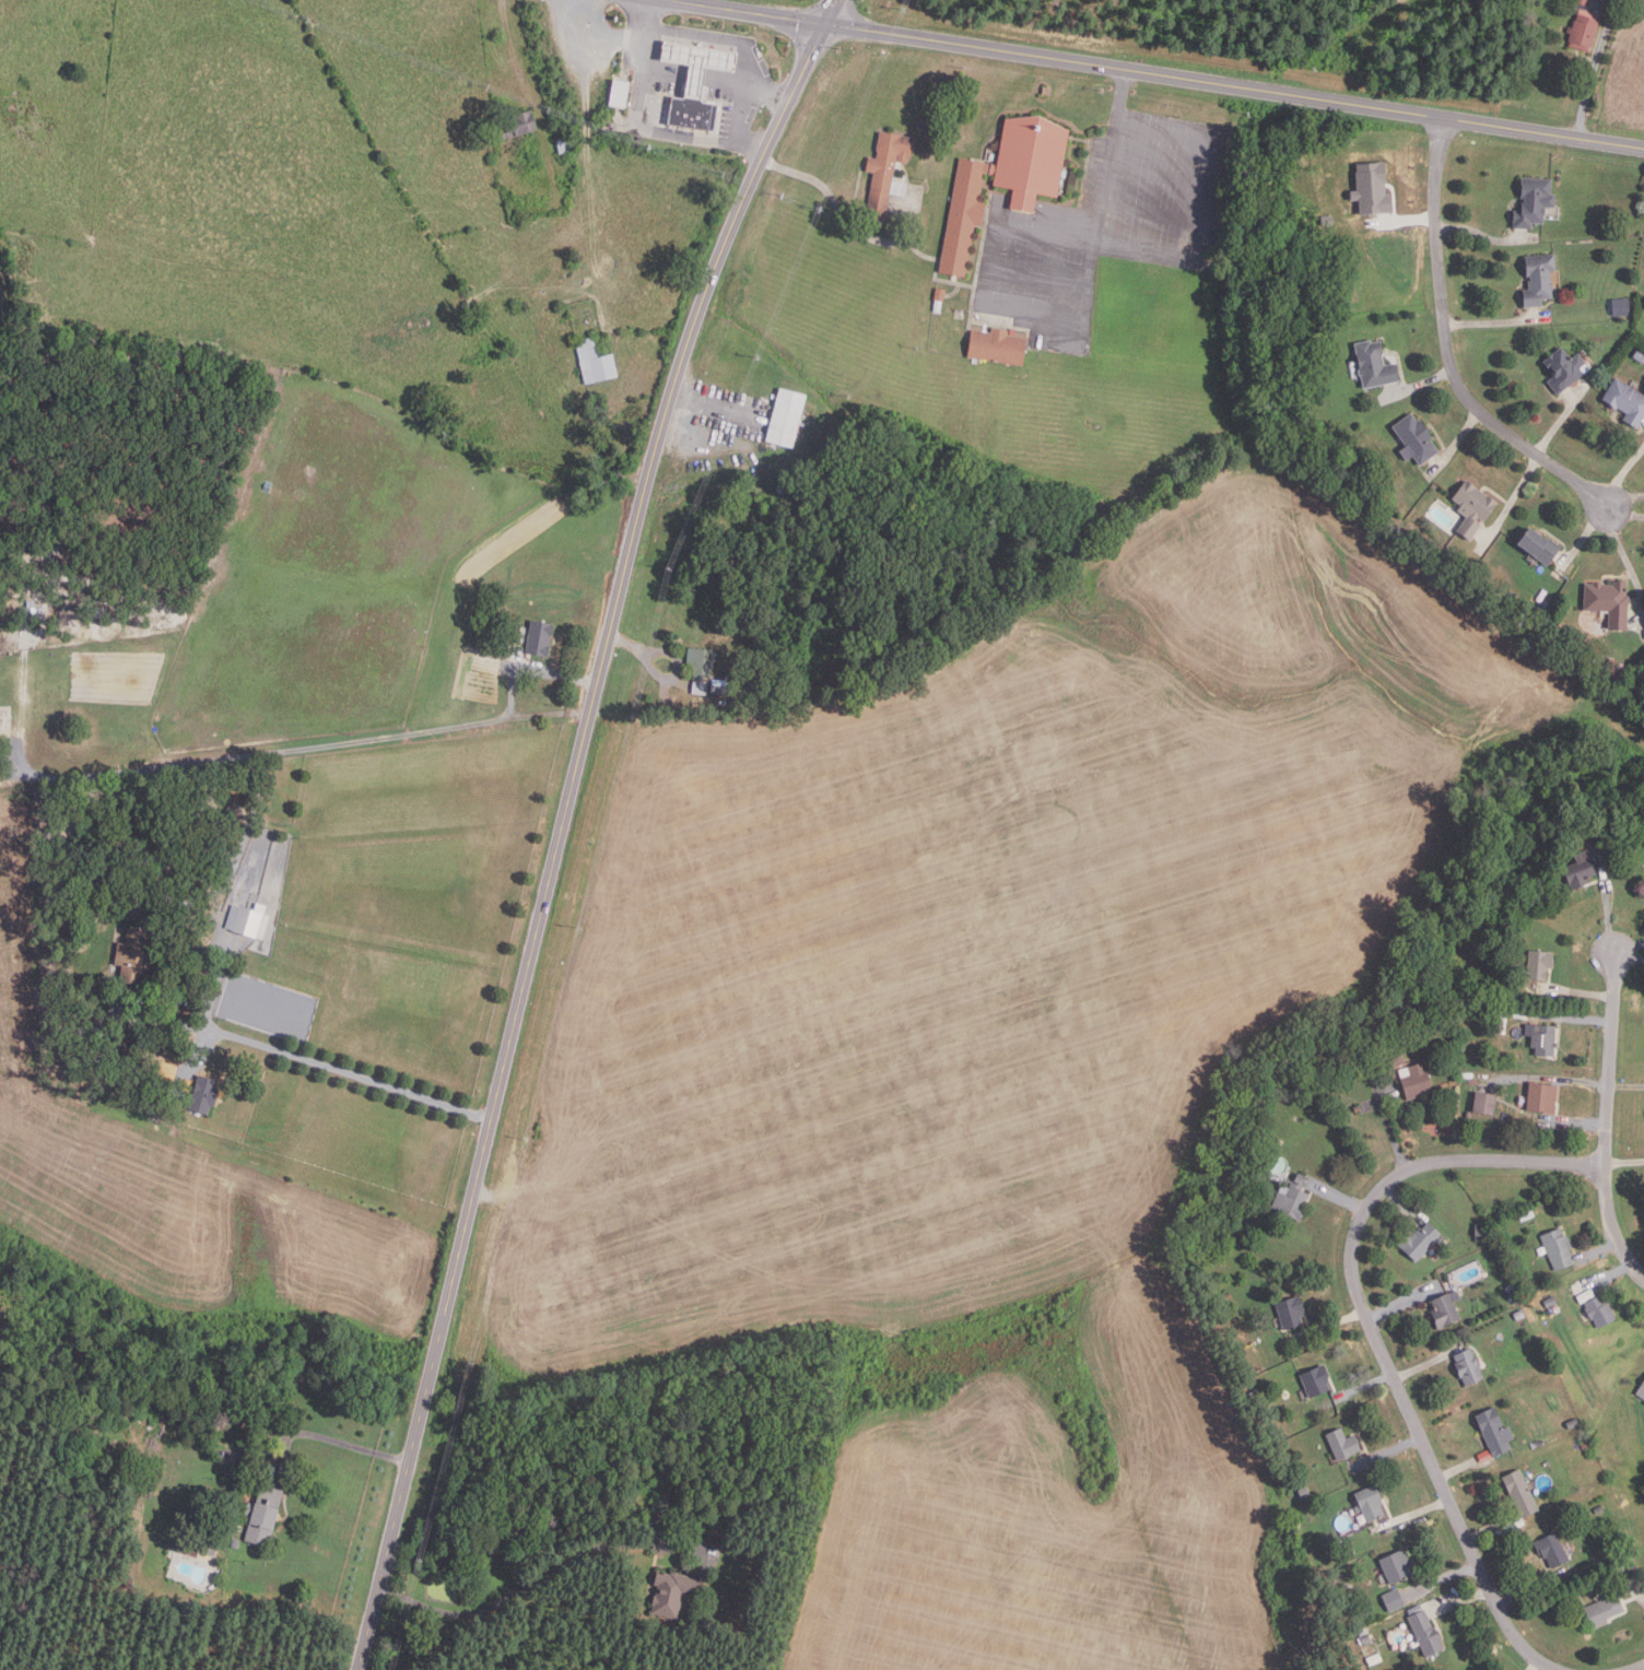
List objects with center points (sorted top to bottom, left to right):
building: (1583, 2)
road: (831, 12)
road: (643, 15)
road: (600, 31)
building: (1584, 31)
road: (1596, 69)
road: (1161, 74)
building: (695, 83)
building: (619, 94)
road: (765, 95)
building: (518, 126)
road: (739, 138)
building: (566, 144)
road: (1111, 157)
building: (888, 173)
building: (1003, 184)
building: (1374, 189)
building: (1534, 200)
road: (835, 203)
road: (1404, 223)
road: (1484, 234)
road: (1151, 255)
building: (1540, 278)
building: (940, 295)
building: (1621, 306)
road: (983, 309)
road: (1494, 320)
building: (997, 346)
road: (1447, 346)
building: (1639, 355)
building: (595, 362)
building: (1374, 363)
building: (1564, 368)
road: (1419, 385)
building: (1643, 391)
building: (1627, 400)
road: (717, 404)
building: (786, 415)
road: (1561, 419)
building: (1416, 437)
road: (696, 442)
road: (1456, 444)
road: (1623, 472)
road: (1625, 498)
road: (1513, 499)
building: (1473, 507)
road: (1624, 510)
road: (1585, 536)
building: (1540, 544)
road: (1622, 551)
building: (150, 577)
building: (1609, 601)
building: (101, 605)
building: (31, 610)
building: (539, 636)
road: (680, 654)
building: (700, 660)
road: (529, 670)
building: (700, 687)
building: (718, 689)
building: (2, 726)
road: (293, 749)
road: (562, 836)
building: (1581, 869)
road: (1607, 918)
building: (247, 919)
road: (1629, 948)
building: (136, 955)
road: (1629, 957)
building: (1539, 965)
road: (213, 985)
road: (1574, 991)
building: (1518, 1014)
road: (1574, 1019)
road: (171, 1021)
building: (1500, 1023)
building: (124, 1040)
building: (1545, 1040)
road: (214, 1047)
building: (1396, 1059)
road: (347, 1071)
building: (1416, 1080)
road: (1577, 1080)
road: (1627, 1085)
building: (203, 1094)
building: (1542, 1098)
building: (1486, 1102)
road: (1606, 1120)
road: (1574, 1122)
road: (1391, 1127)
road: (1624, 1161)
road: (1338, 1197)
building: (1292, 1198)
road: (1399, 1201)
building: (1527, 1214)
building: (1479, 1231)
building: (1420, 1242)
building: (1559, 1249)
road: (1597, 1251)
road: (1608, 1278)
building: (1517, 1296)
building: (1550, 1302)
road: (1401, 1304)
building: (1557, 1309)
building: (1445, 1310)
building: (1600, 1312)
building: (1291, 1313)
building: (1519, 1315)
road: (1331, 1324)
road: (1373, 1333)
road: (1426, 1363)
building: (1468, 1368)
building: (1316, 1381)
road: (1366, 1384)
building: (1641, 1391)
building: (1573, 1423)
building: (1494, 1432)
road: (340, 1440)
building: (1343, 1445)
building: (1584, 1445)
road: (1385, 1453)
road: (1461, 1468)
building: (1304, 1492)
building: (1522, 1492)
building: (1370, 1504)
building: (1598, 1509)
building: (262, 1515)
road: (1411, 1515)
building: (661, 1530)
road: (1488, 1530)
building: (716, 1533)
building: (235, 1543)
building: (208, 1546)
building: (1552, 1551)
building: (1346, 1554)
building: (1623, 1564)
building: (1631, 1564)
building: (1398, 1567)
road: (537, 1575)
road: (1442, 1577)
road: (1641, 1588)
road: (1531, 1589)
building: (674, 1592)
road: (1460, 1599)
building: (1394, 1600)
building: (1604, 1609)
building: (1363, 1613)
building: (1425, 1633)
building: (1409, 1646)
building: (1374, 1659)
road: (1534, 1665)
road: (1639, 1668)

